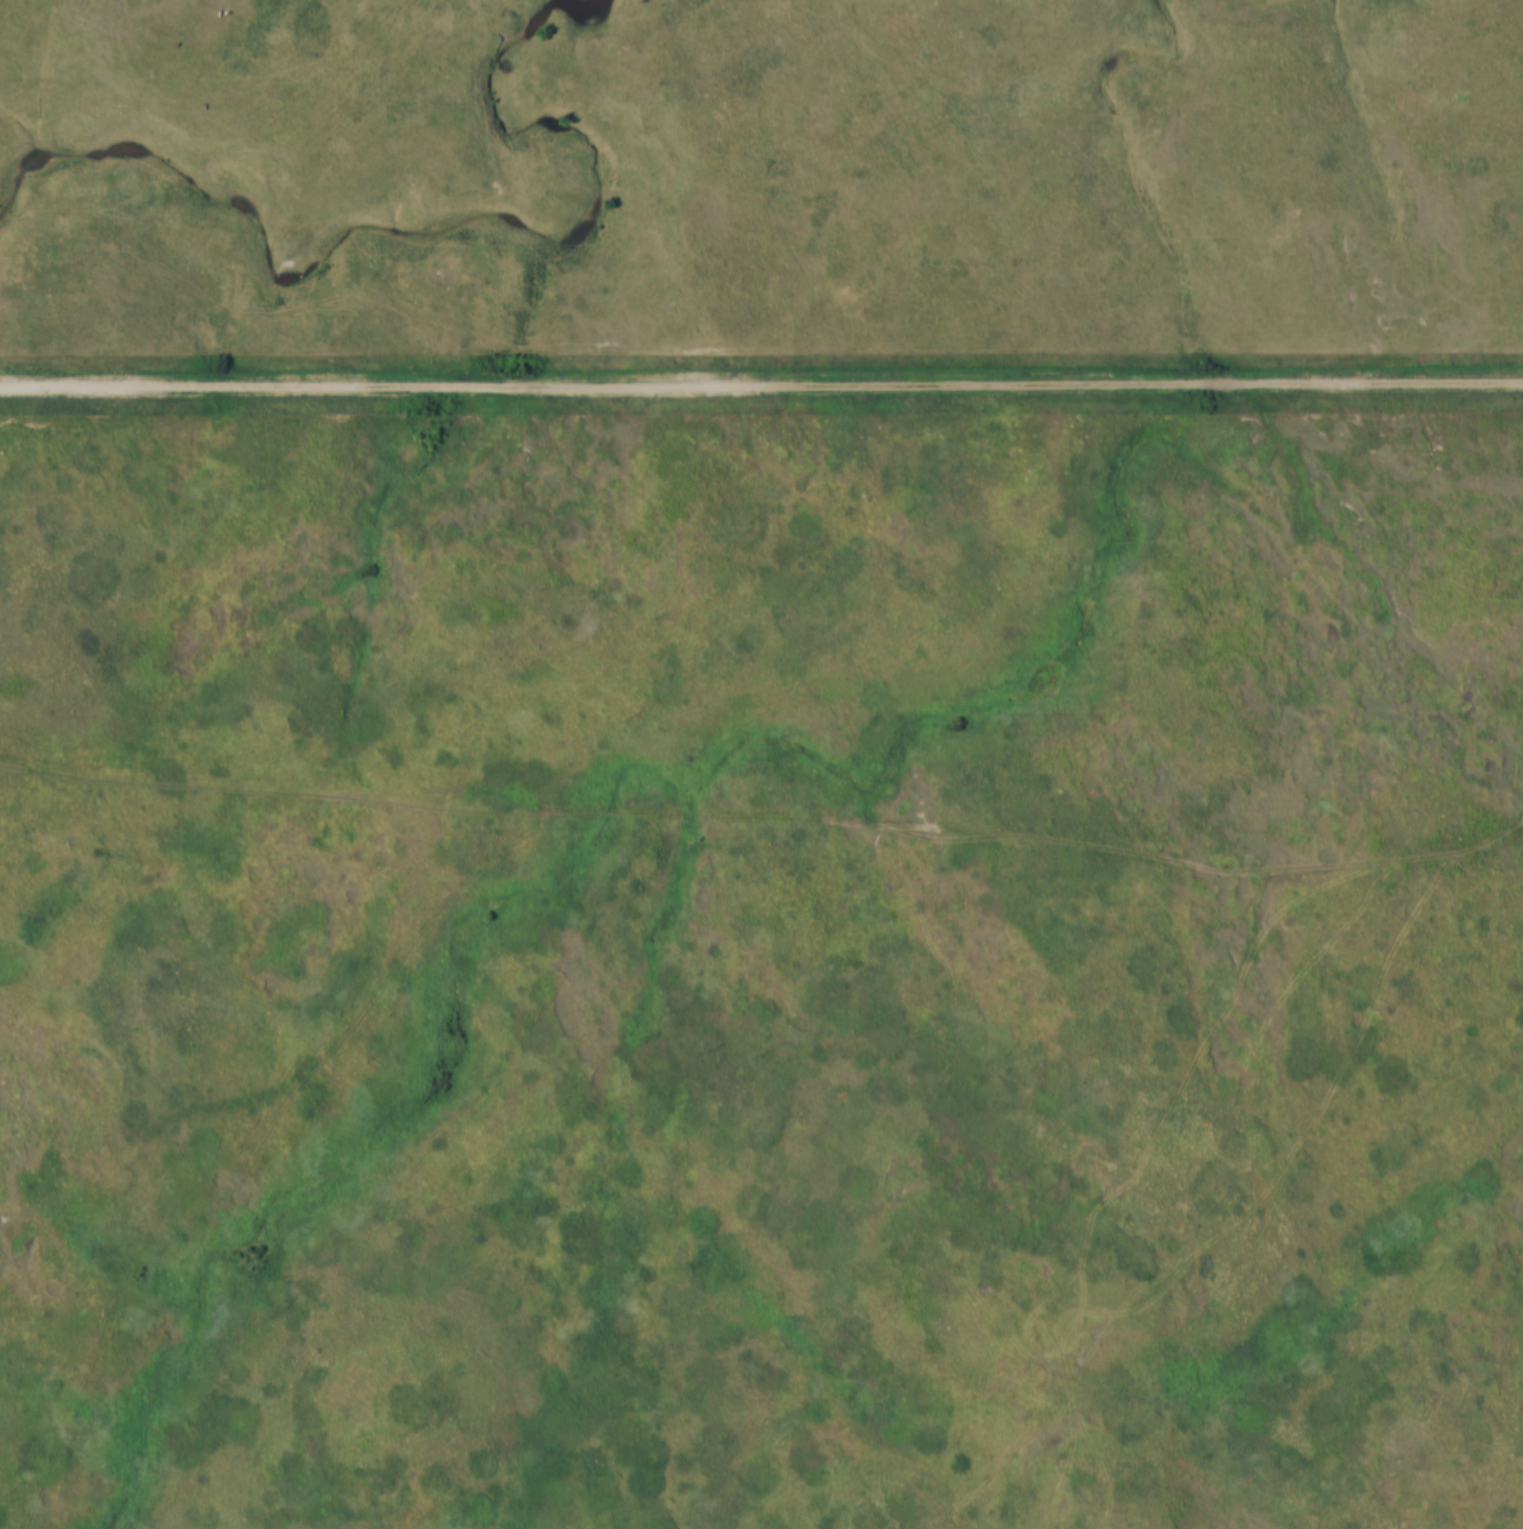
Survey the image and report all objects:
road: (761, 392)
road: (765, 820)

